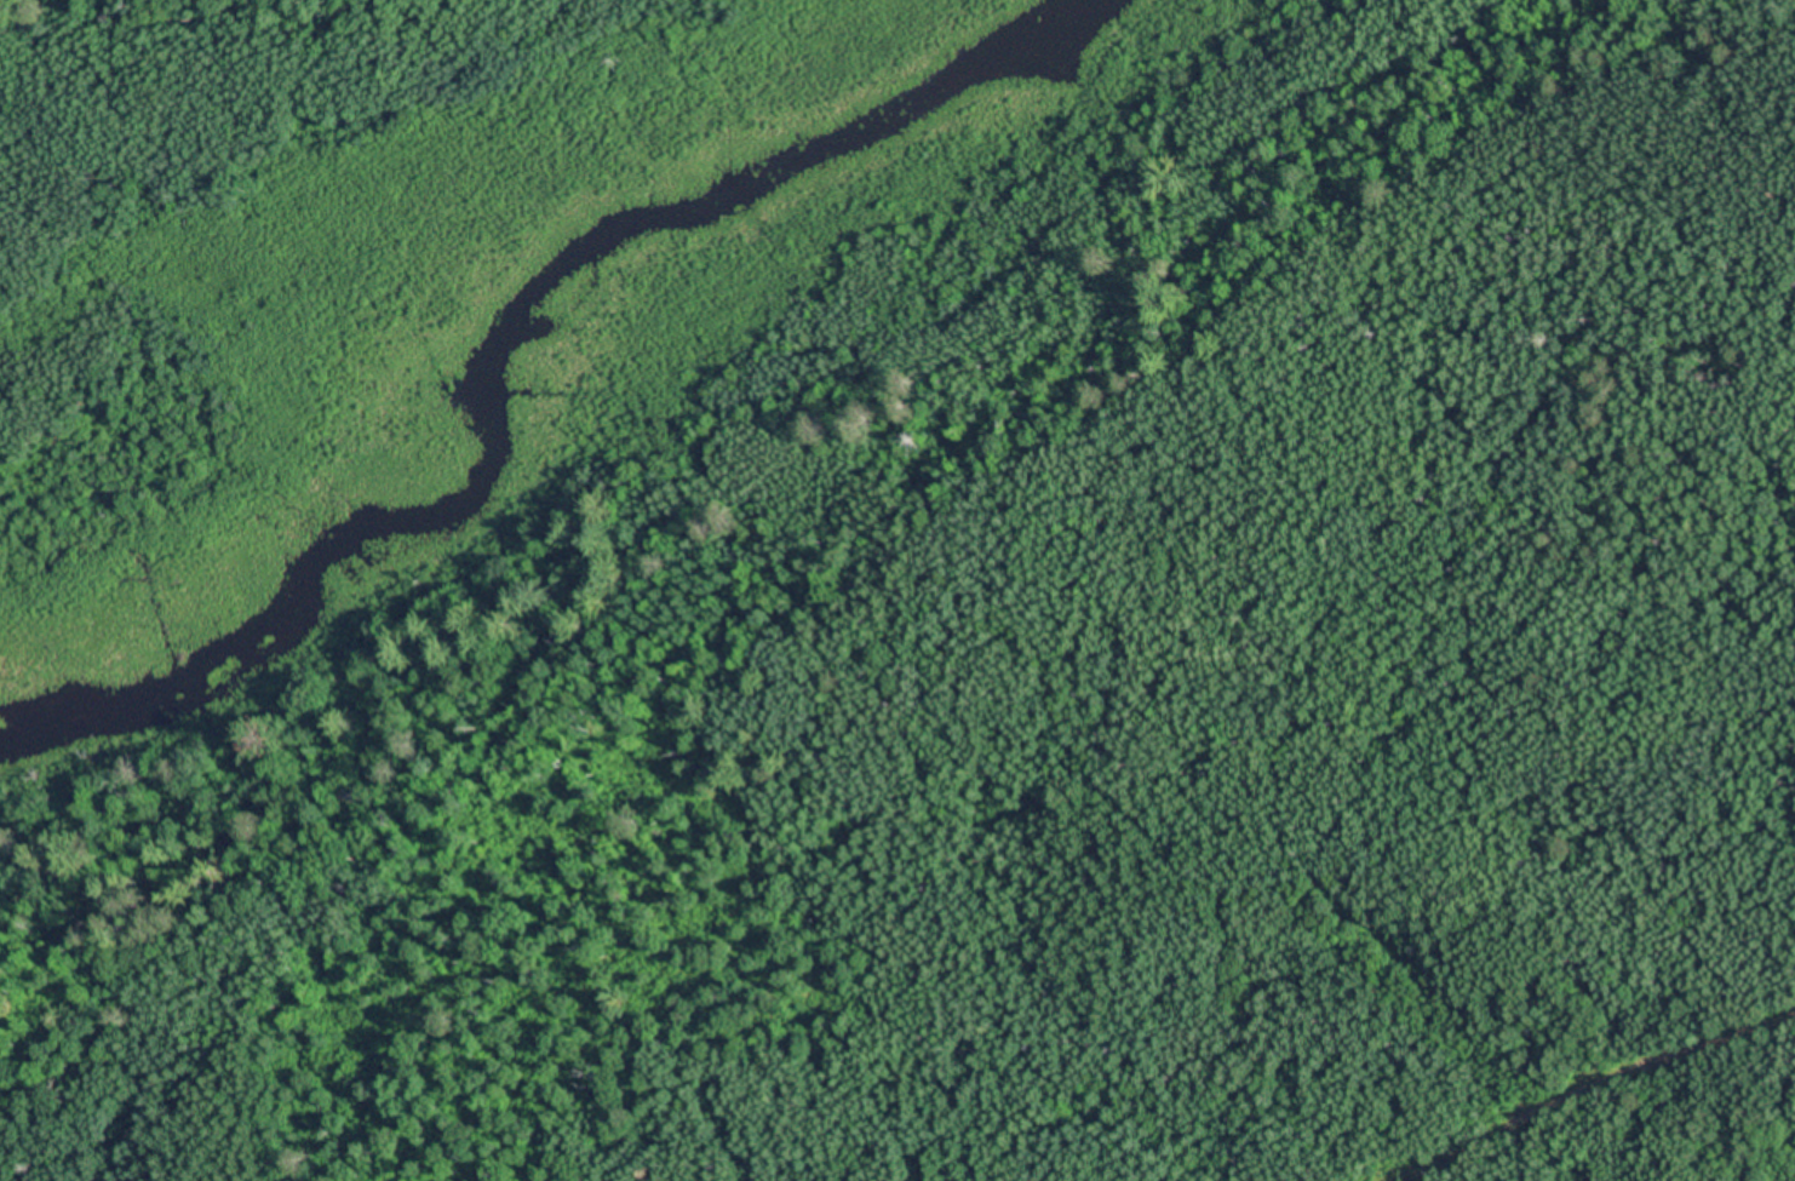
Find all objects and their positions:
road: (1547, 1101)

